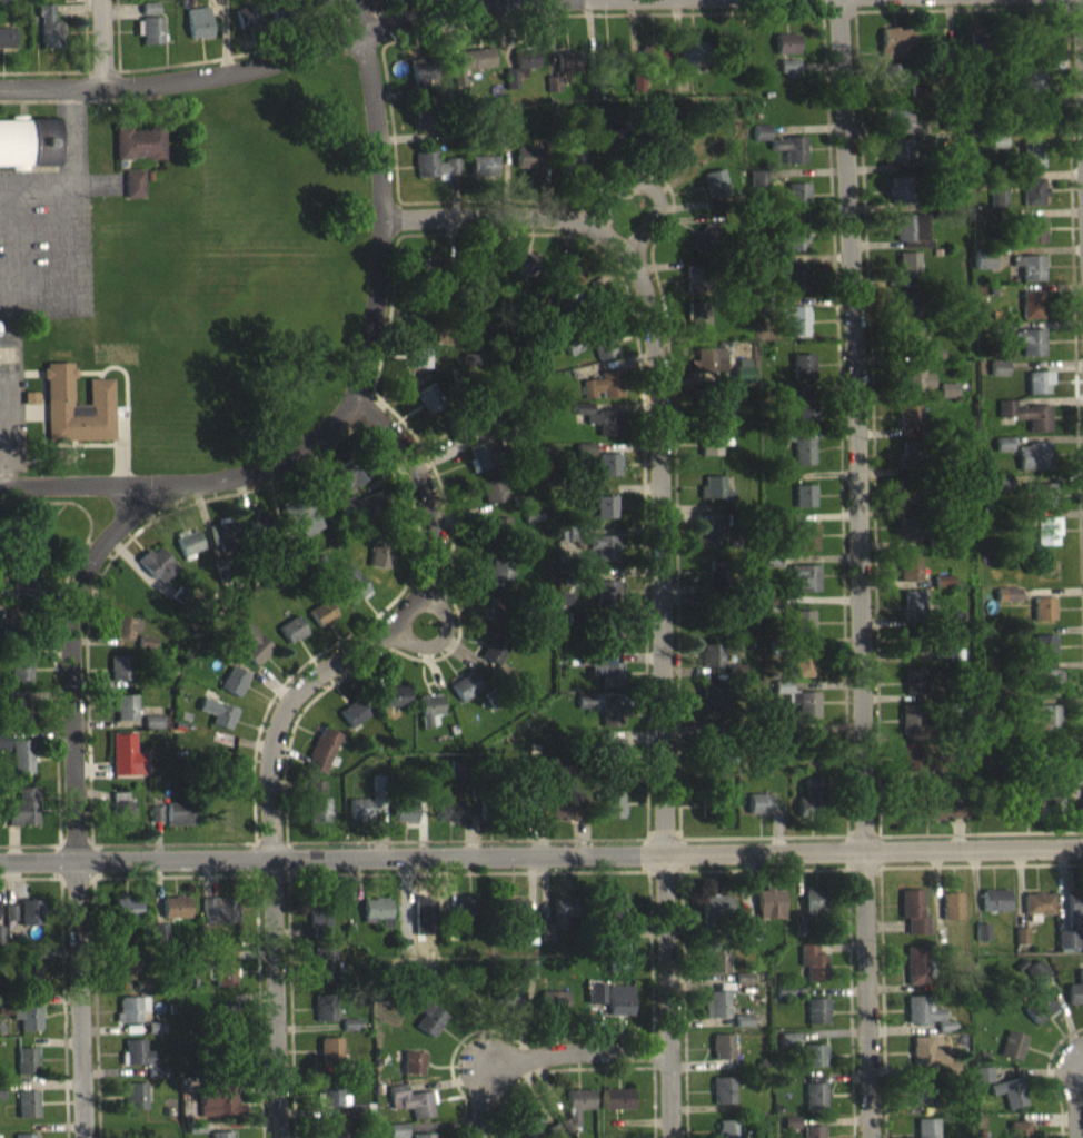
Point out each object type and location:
building: (47, 2)
building: (150, 2)
road: (468, 4)
building: (3, 6)
building: (312, 6)
building: (148, 18)
building: (246, 27)
road: (223, 34)
building: (48, 37)
building: (198, 37)
building: (149, 40)
road: (98, 43)
building: (6, 47)
road: (1081, 49)
building: (974, 51)
building: (895, 52)
building: (786, 53)
road: (271, 59)
building: (650, 66)
building: (690, 67)
building: (526, 68)
building: (475, 69)
building: (566, 71)
building: (787, 76)
building: (603, 77)
building: (417, 80)
building: (897, 85)
building: (1033, 88)
building: (510, 90)
building: (555, 92)
building: (420, 127)
building: (1035, 128)
building: (897, 129)
building: (609, 141)
building: (761, 142)
building: (28, 152)
building: (139, 152)
building: (789, 158)
building: (897, 160)
building: (1032, 164)
building: (570, 167)
building: (529, 169)
building: (434, 175)
building: (483, 175)
road: (653, 191)
building: (133, 194)
building: (715, 194)
road: (382, 200)
building: (898, 200)
building: (1032, 201)
building: (795, 205)
building: (996, 208)
building: (912, 239)
building: (1034, 239)
building: (794, 247)
building: (706, 249)
building: (983, 269)
building: (525, 273)
building: (906, 275)
building: (428, 277)
building: (1029, 277)
building: (567, 281)
building: (696, 287)
building: (791, 289)
building: (908, 313)
building: (1031, 315)
building: (701, 324)
building: (794, 329)
building: (1030, 352)
building: (922, 354)
building: (604, 357)
building: (417, 367)
building: (469, 369)
building: (707, 370)
building: (802, 377)
building: (997, 377)
building: (742, 379)
building: (915, 388)
building: (1037, 393)
building: (602, 396)
building: (946, 399)
building: (427, 407)
building: (724, 413)
building: (76, 417)
building: (805, 418)
building: (1025, 424)
building: (907, 426)
building: (599, 428)
building: (459, 442)
building: (707, 454)
building: (1002, 454)
building: (583, 458)
building: (802, 461)
building: (908, 464)
building: (480, 466)
building: (1033, 466)
building: (608, 474)
building: (347, 483)
road: (82, 487)
building: (1001, 492)
building: (713, 498)
building: (491, 501)
building: (1041, 505)
building: (802, 506)
building: (905, 506)
building: (345, 515)
building: (368, 516)
building: (530, 525)
building: (254, 528)
building: (306, 531)
building: (497, 536)
building: (906, 538)
building: (1045, 541)
building: (709, 543)
building: (221, 545)
building: (805, 546)
building: (187, 553)
building: (605, 556)
building: (379, 564)
road: (652, 566)
road: (856, 568)
building: (157, 574)
building: (908, 576)
building: (498, 578)
building: (714, 582)
building: (804, 587)
building: (19, 593)
building: (349, 593)
building: (606, 602)
building: (1006, 604)
building: (495, 617)
building: (913, 617)
building: (1042, 619)
building: (321, 623)
building: (10, 629)
building: (799, 632)
building: (125, 637)
building: (291, 640)
building: (608, 647)
building: (251, 654)
building: (911, 654)
building: (1044, 656)
building: (493, 659)
building: (943, 664)
building: (711, 665)
building: (802, 673)
building: (119, 677)
building: (19, 680)
building: (605, 683)
road: (70, 687)
building: (234, 691)
building: (913, 691)
building: (1045, 691)
building: (464, 696)
building: (394, 706)
building: (712, 707)
building: (798, 710)
building: (16, 716)
building: (125, 718)
road: (278, 718)
building: (428, 720)
building: (218, 723)
building: (352, 723)
building: (612, 724)
building: (912, 729)
building: (1043, 729)
building: (152, 732)
building: (322, 759)
building: (126, 765)
building: (21, 766)
building: (614, 766)
building: (912, 769)
building: (456, 780)
building: (316, 798)
building: (812, 804)
building: (757, 813)
building: (1051, 814)
building: (612, 815)
building: (564, 817)
building: (938, 817)
building: (1021, 817)
building: (22, 818)
building: (360, 818)
building: (317, 820)
building: (448, 820)
building: (403, 822)
building: (156, 823)
building: (179, 823)
building: (530, 824)
road: (466, 838)
road: (663, 838)
road: (271, 840)
road: (172, 841)
road: (74, 842)
road: (645, 852)
road: (682, 852)
road: (540, 853)
road: (254, 857)
road: (288, 857)
road: (57, 858)
road: (92, 858)
road: (981, 864)
road: (664, 867)
road: (764, 867)
road: (862, 867)
road: (466, 870)
road: (173, 873)
road: (270, 873)
road: (74, 874)
building: (995, 894)
building: (1036, 900)
building: (811, 901)
building: (613, 902)
building: (714, 902)
building: (768, 903)
building: (951, 904)
building: (562, 907)
building: (469, 908)
building: (375, 909)
building: (510, 909)
building: (912, 910)
building: (994, 910)
building: (1037, 913)
building: (319, 914)
building: (614, 914)
building: (175, 917)
building: (714, 917)
building: (126, 918)
building: (809, 918)
building: (217, 920)
building: (1071, 920)
building: (465, 921)
building: (9, 922)
building: (30, 922)
building: (747, 926)
building: (450, 928)
building: (543, 929)
building: (981, 929)
building: (525, 932)
building: (544, 942)
building: (981, 942)
building: (121, 943)
building: (527, 944)
building: (1020, 946)
road: (648, 949)
building: (714, 956)
building: (616, 957)
building: (812, 960)
building: (322, 962)
building: (914, 963)
building: (527, 967)
building: (1034, 968)
building: (127, 973)
building: (527, 979)
building: (1035, 980)
building: (223, 983)
building: (29, 984)
building: (1075, 987)
building: (742, 988)
building: (783, 989)
building: (385, 991)
building: (594, 991)
building: (507, 993)
building: (618, 998)
building: (552, 999)
building: (1034, 1000)
building: (715, 1001)
road: (849, 1001)
road: (684, 1002)
road: (881, 1002)
building: (594, 1003)
road: (259, 1005)
road: (290, 1006)
building: (325, 1006)
building: (513, 1008)
building: (815, 1008)
building: (920, 1009)
building: (553, 1011)
building: (426, 1016)
building: (715, 1016)
building: (130, 1018)
building: (742, 1018)
building: (1039, 1018)
building: (816, 1021)
building: (925, 1023)
building: (226, 1026)
building: (27, 1028)
building: (428, 1028)
road: (500, 1031)
building: (742, 1031)
building: (350, 1033)
building: (155, 1037)
building: (787, 1037)
building: (1010, 1041)
building: (721, 1043)
building: (330, 1047)
road: (650, 1048)
building: (787, 1048)
building: (926, 1050)
building: (813, 1052)
building: (982, 1052)
road: (1080, 1052)
road: (543, 1055)
building: (1012, 1056)
building: (722, 1057)
building: (413, 1060)
building: (926, 1062)
road: (585, 1066)
building: (813, 1066)
building: (142, 1067)
building: (26, 1070)
building: (413, 1072)
building: (981, 1075)
building: (982, 1085)
building: (330, 1087)
building: (723, 1087)
building: (922, 1088)
building: (1009, 1090)
building: (813, 1092)
building: (616, 1095)
building: (411, 1096)
road: (1077, 1096)
building: (922, 1100)
building: (1009, 1102)
building: (135, 1106)
building: (331, 1106)
building: (575, 1106)
building: (357, 1107)
building: (617, 1109)
building: (219, 1111)
building: (413, 1111)
building: (28, 1114)
building: (528, 1118)
building: (789, 1119)
building: (398, 1127)
building: (726, 1127)
building: (926, 1127)
building: (1017, 1127)
building: (335, 1128)
building: (529, 1129)
building: (554, 1129)
building: (811, 1129)
building: (788, 1132)
building: (423, 1134)
building: (397, 1136)

